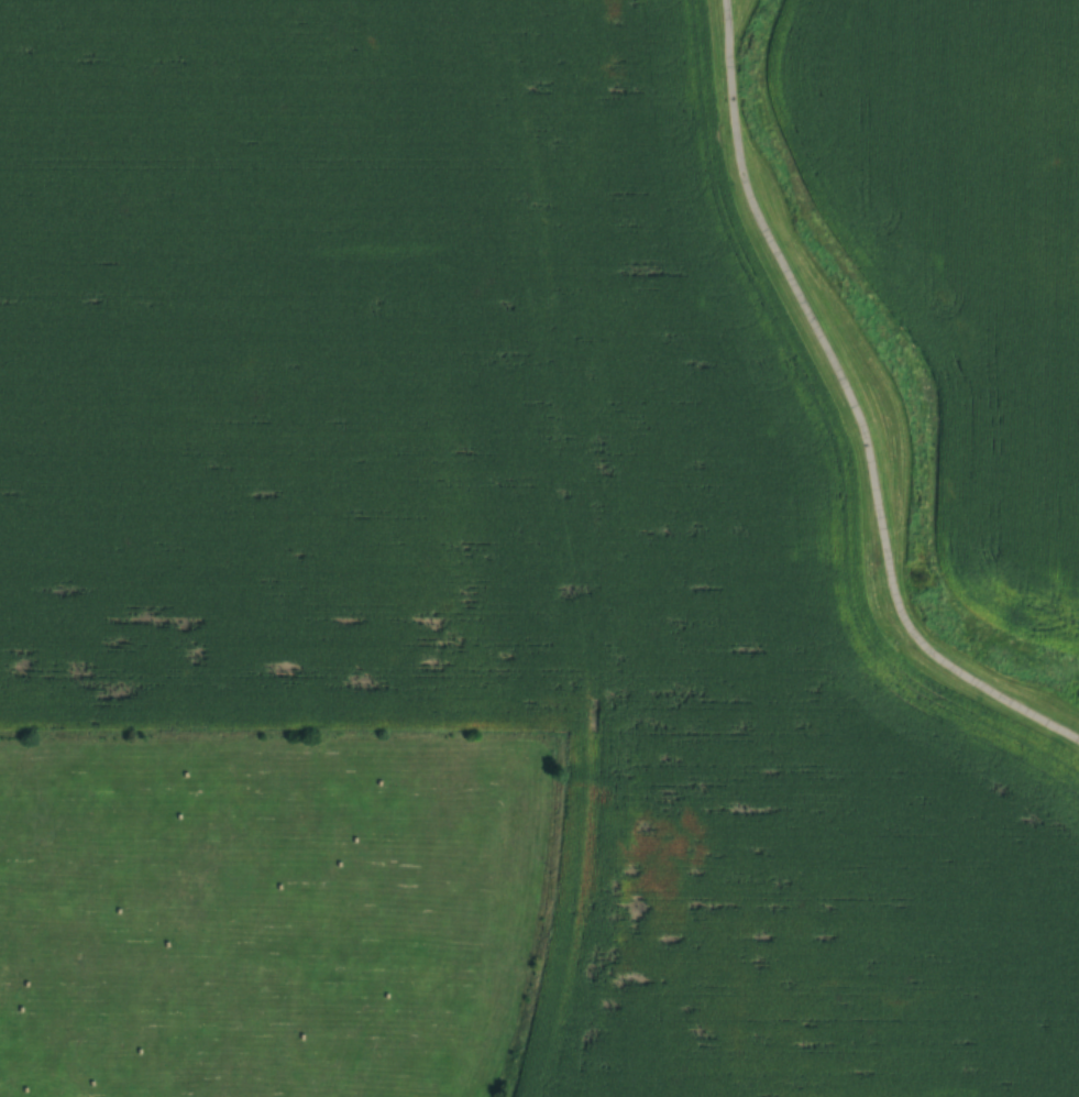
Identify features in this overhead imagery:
road: (852, 407)

